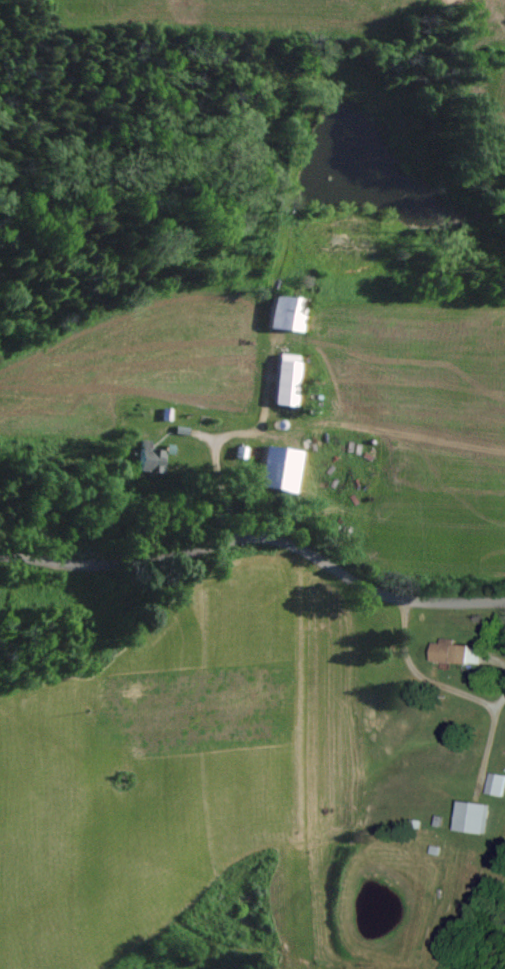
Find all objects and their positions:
building: (276, 315)
building: (278, 382)
building: (143, 460)
building: (268, 471)
road: (224, 489)
road: (258, 543)
building: (443, 653)
road: (417, 678)
building: (492, 785)
building: (465, 817)

